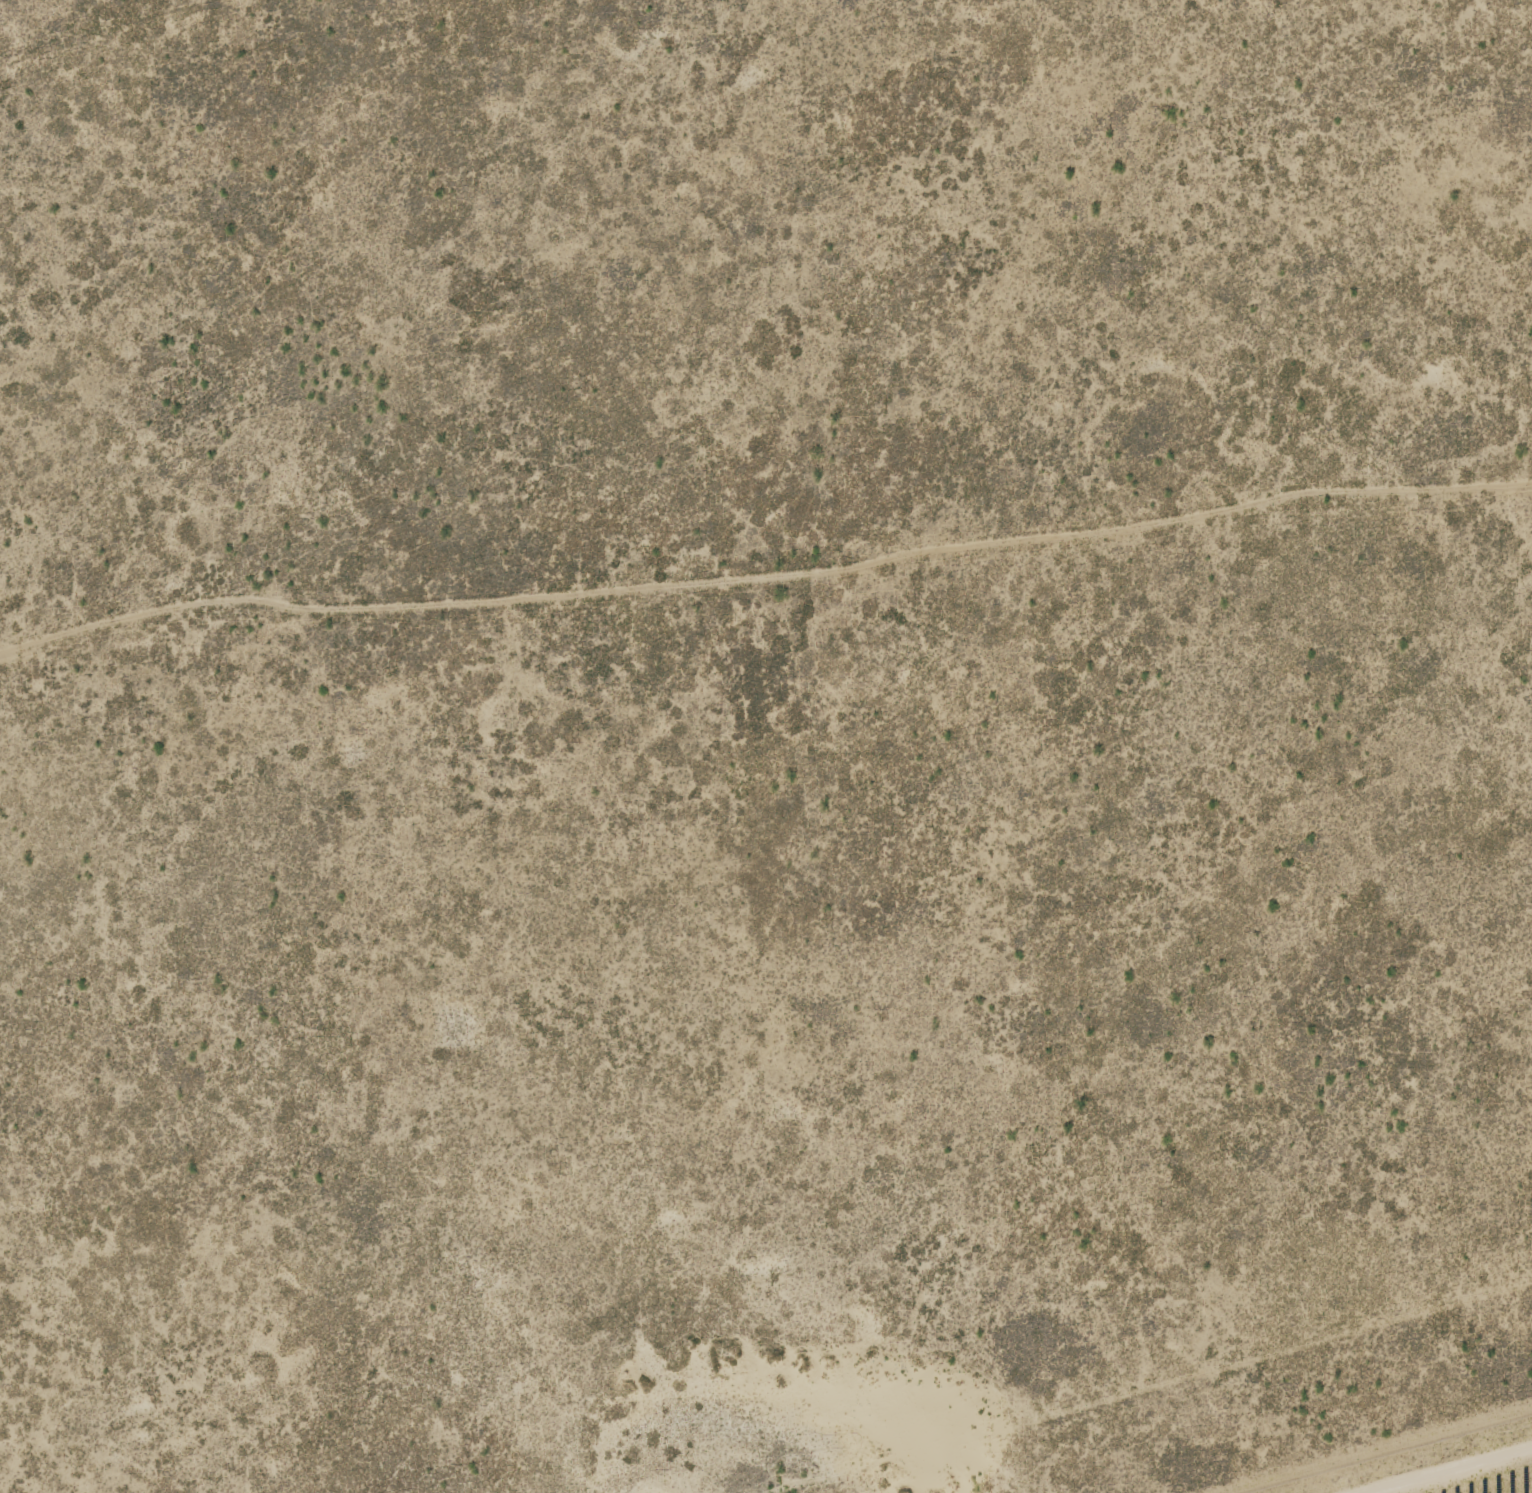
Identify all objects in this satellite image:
solar farm: (1430, 1465)

